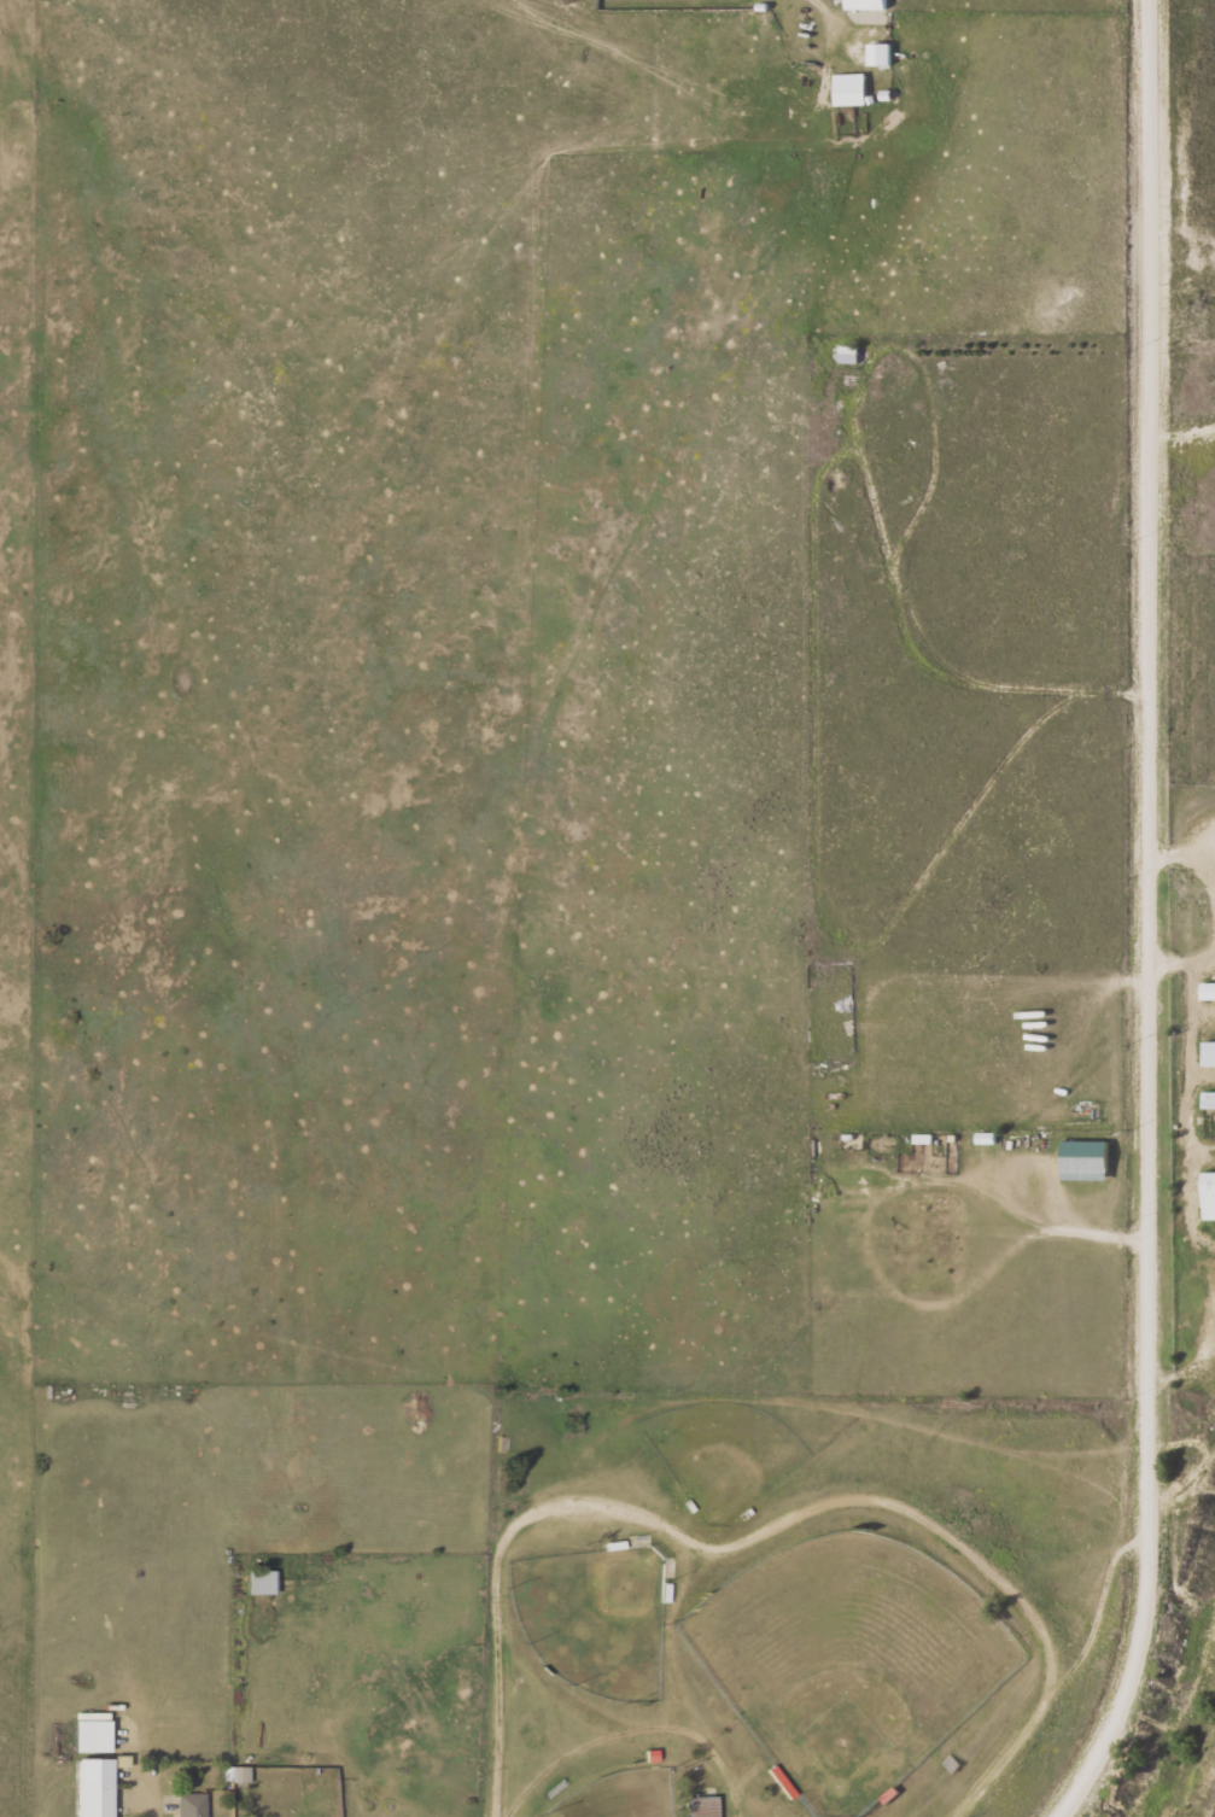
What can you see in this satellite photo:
building: (866, 4)
building: (880, 54)
building: (849, 89)
building: (848, 355)
road: (1150, 917)
building: (1208, 992)
building: (1208, 1053)
building: (1209, 1099)
building: (1208, 1196)
park: (722, 1455)
building: (263, 1582)
park: (592, 1619)
park: (847, 1663)
building: (93, 1731)
railway: (1196, 1763)
building: (122, 1768)
building: (238, 1774)
building: (94, 1787)
park: (618, 1796)
building: (191, 1805)
building: (702, 1806)

